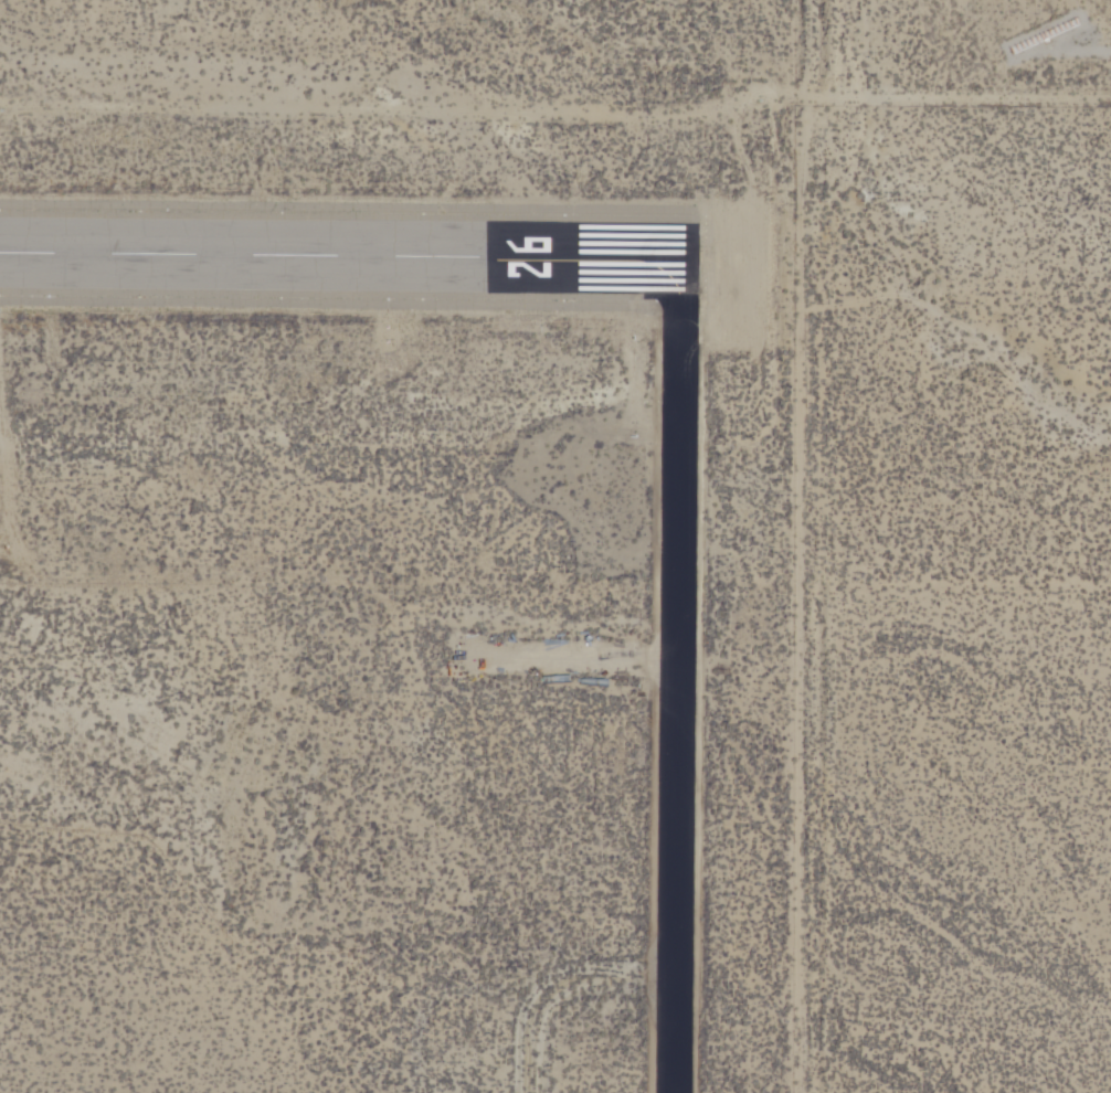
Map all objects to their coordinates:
airport runway: (337, 227)
airport: (402, 545)
airport taxiway: (671, 660)

